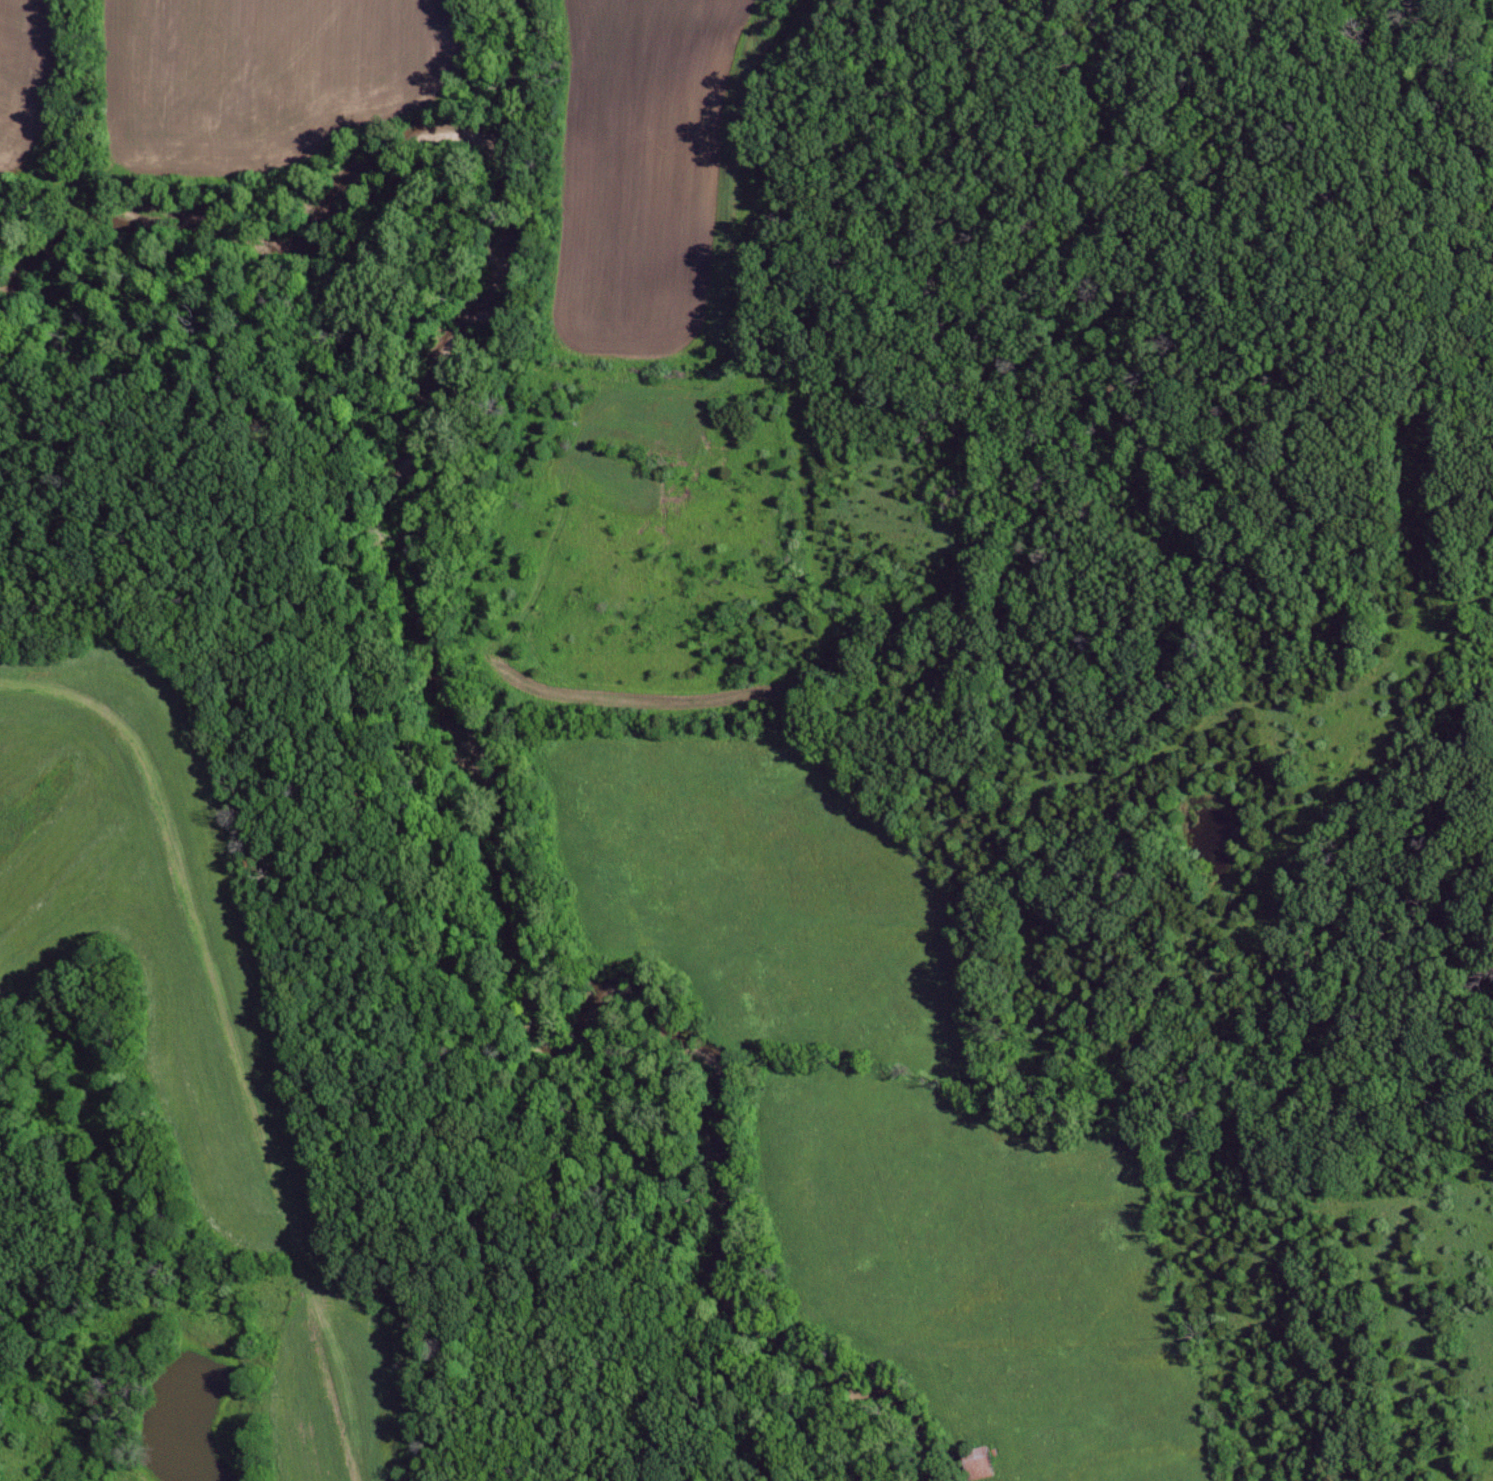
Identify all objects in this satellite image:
building: (977, 1463)

